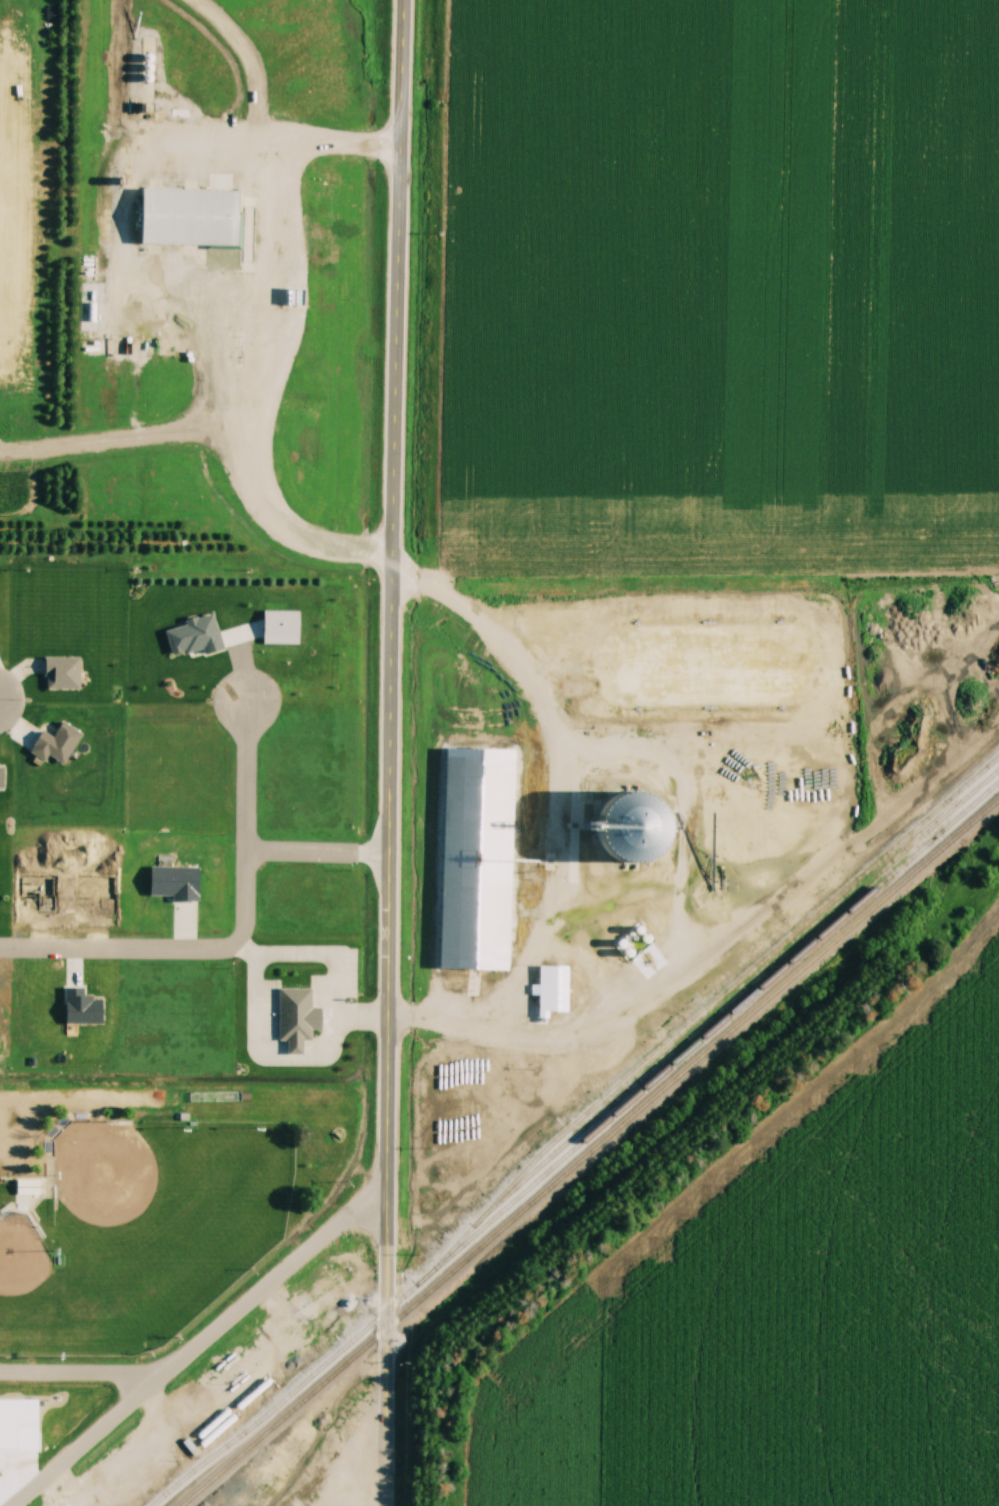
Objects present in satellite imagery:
building: (147, 60)
building: (191, 217)
crop: (721, 285)
road: (396, 600)
road: (248, 780)
road: (554, 802)
building: (635, 827)
building: (477, 857)
road: (231, 946)
railway: (746, 985)
building: (551, 991)
railway: (714, 998)
railway: (576, 1145)
railway: (589, 1150)
building: (37, 1189)
park: (156, 1204)
park: (159, 1224)
park: (41, 1300)
crop: (793, 1305)
road: (197, 1348)
road: (388, 1353)
road: (79, 1373)

